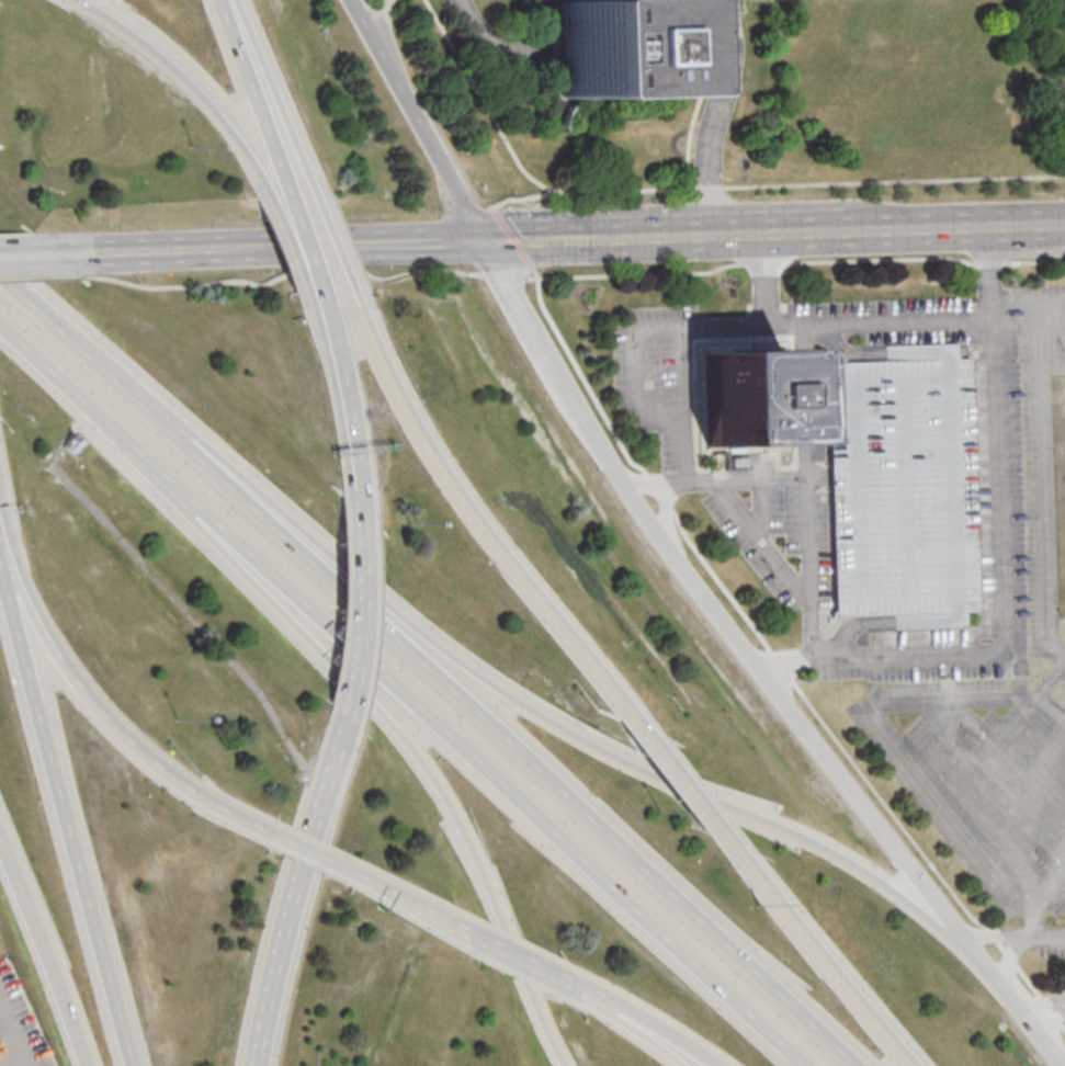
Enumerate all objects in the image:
road: (359, 4)
road: (495, 41)
building: (608, 47)
road: (186, 77)
road: (254, 90)
road: (264, 90)
road: (484, 104)
road: (715, 116)
road: (413, 120)
road: (1029, 224)
road: (919, 227)
road: (769, 231)
road: (288, 235)
road: (325, 235)
road: (586, 236)
road: (305, 237)
traffic signals: (480, 239)
road: (379, 242)
road: (259, 247)
road: (147, 251)
road: (27, 254)
road: (929, 257)
road: (435, 269)
road: (42, 279)
road: (519, 307)
road: (832, 322)
road: (86, 351)
road: (45, 363)
road: (637, 387)
road: (345, 390)
road: (332, 392)
building: (744, 396)
road: (596, 398)
road: (137, 447)
road: (805, 463)
road: (1043, 475)
road: (763, 478)
building: (903, 486)
parking garage: (903, 486)
road: (356, 495)
road: (475, 519)
road: (7, 546)
road: (771, 548)
road: (997, 557)
road: (249, 567)
road: (356, 606)
road: (760, 676)
road: (1049, 710)
road: (114, 724)
road: (558, 724)
road: (896, 740)
road: (513, 747)
road: (494, 779)
road: (677, 780)
road: (67, 818)
road: (2, 835)
road: (468, 838)
road: (311, 855)
road: (366, 882)
road: (302, 889)
road: (422, 910)
road: (990, 932)
road: (1043, 935)
road: (814, 951)
road: (49, 952)
road: (515, 959)
road: (1011, 962)
road: (582, 990)
road: (1046, 1006)
road: (1021, 1013)
road: (656, 1029)
road: (638, 1032)

